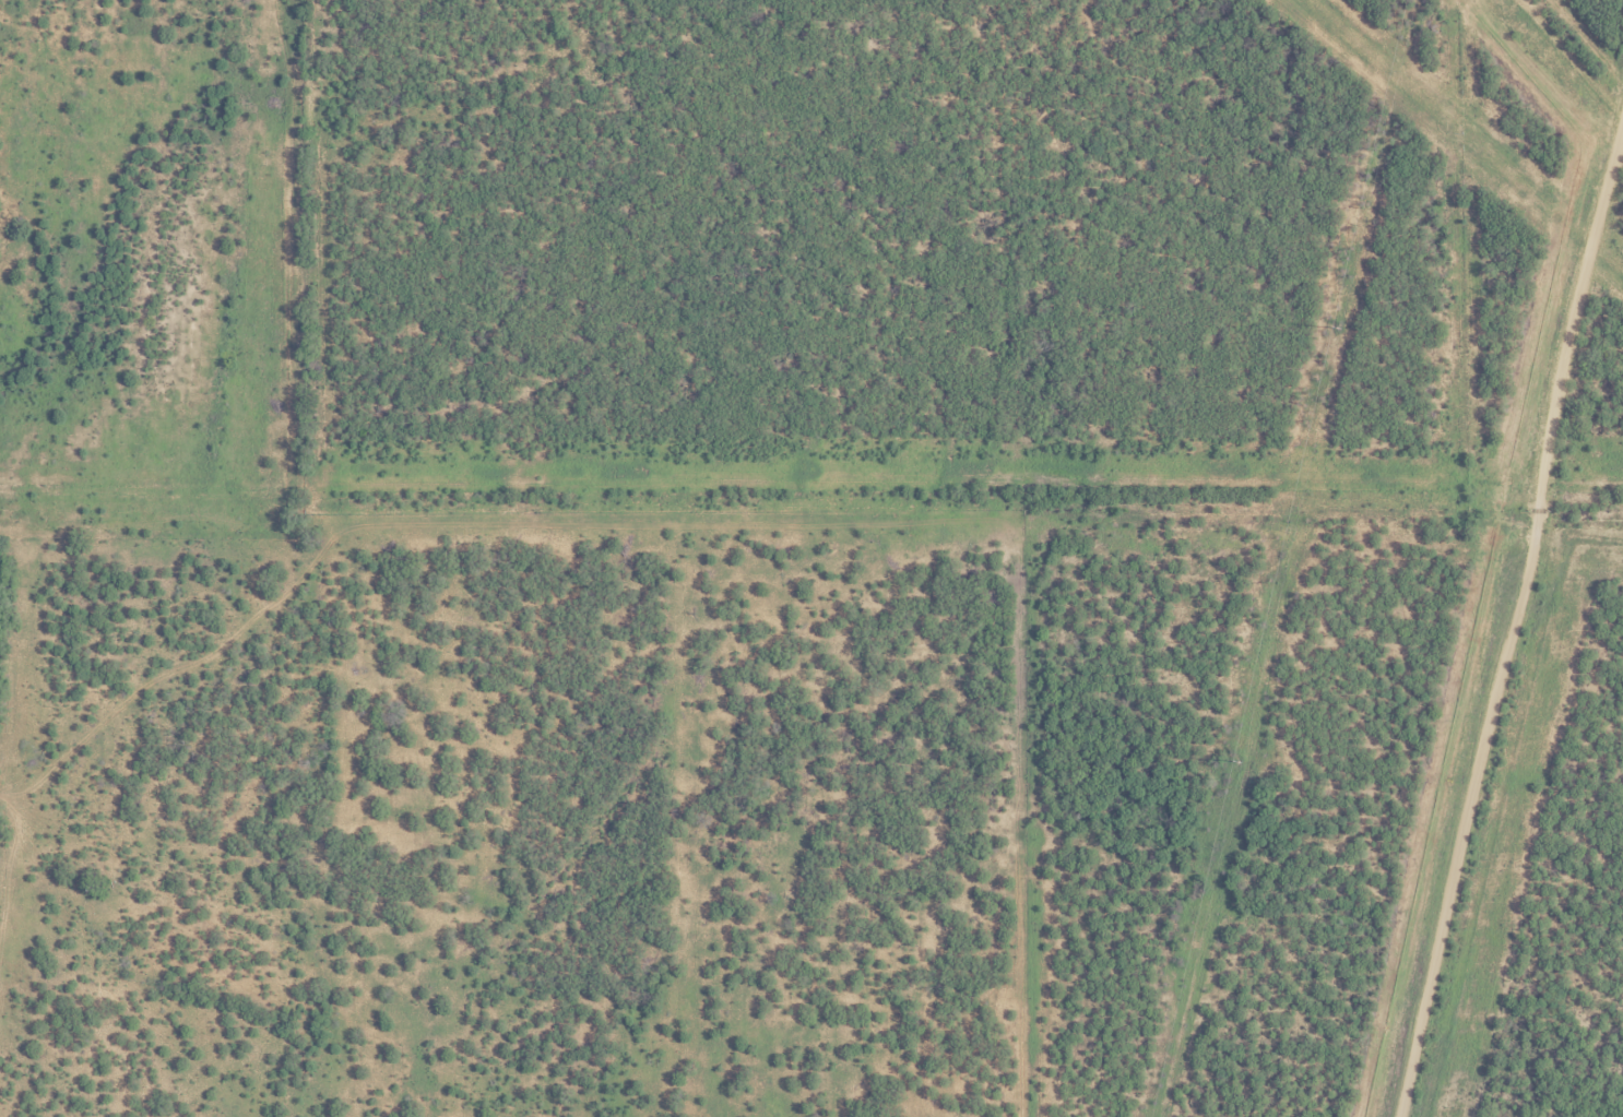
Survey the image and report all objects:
power tower: (1335, 328)
road: (1514, 618)
power tower: (1237, 762)

